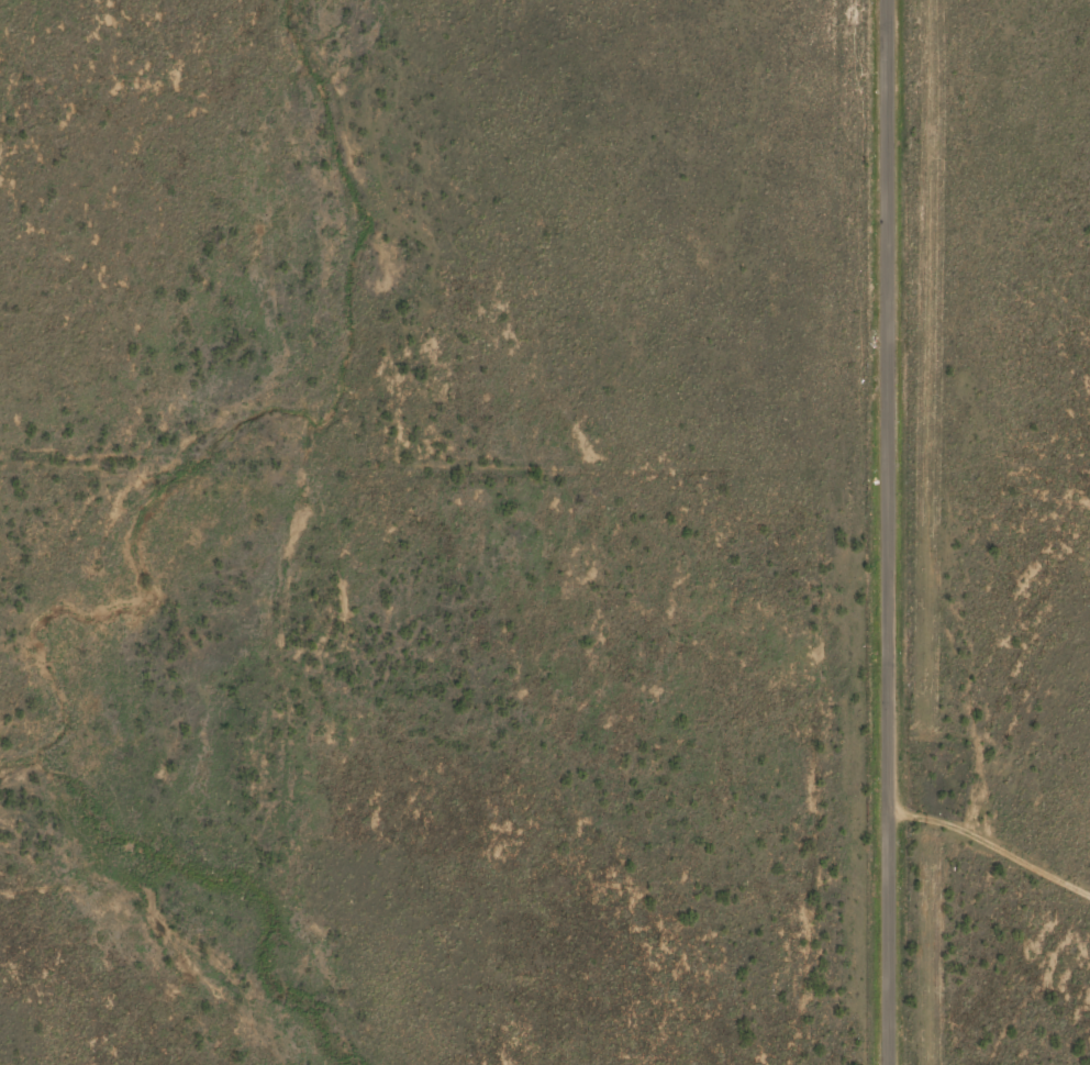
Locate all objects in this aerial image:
road: (890, 532)

